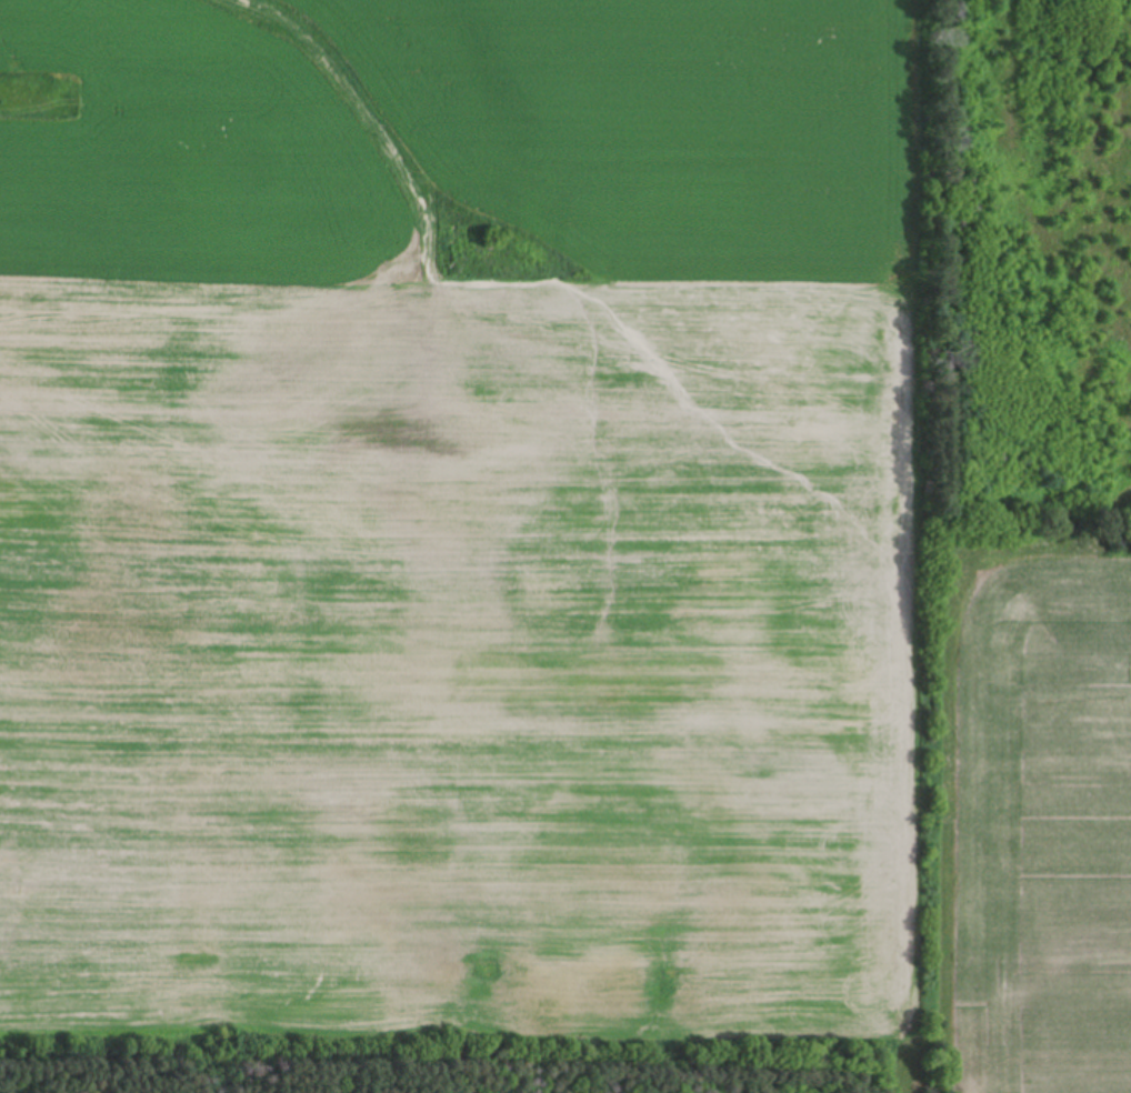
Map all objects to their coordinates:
crop: (519, 500)

